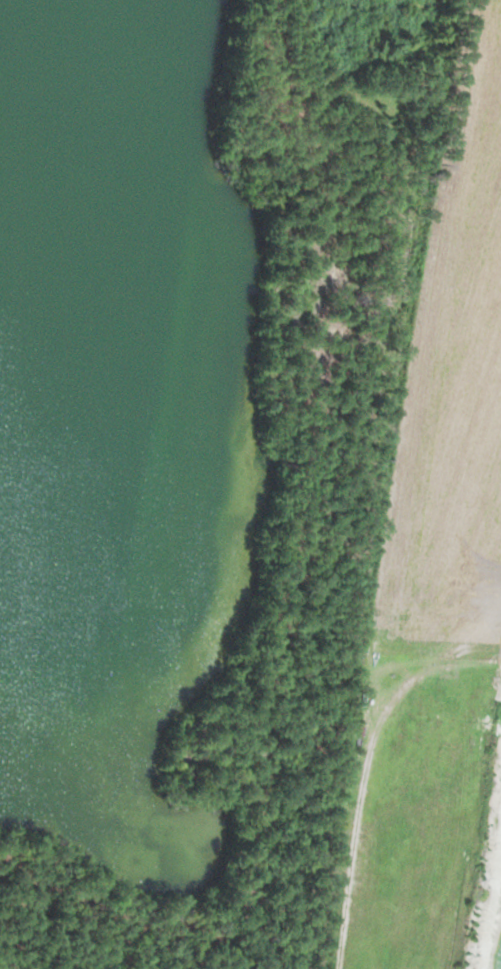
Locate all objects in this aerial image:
road: (431, 666)
road: (361, 773)

